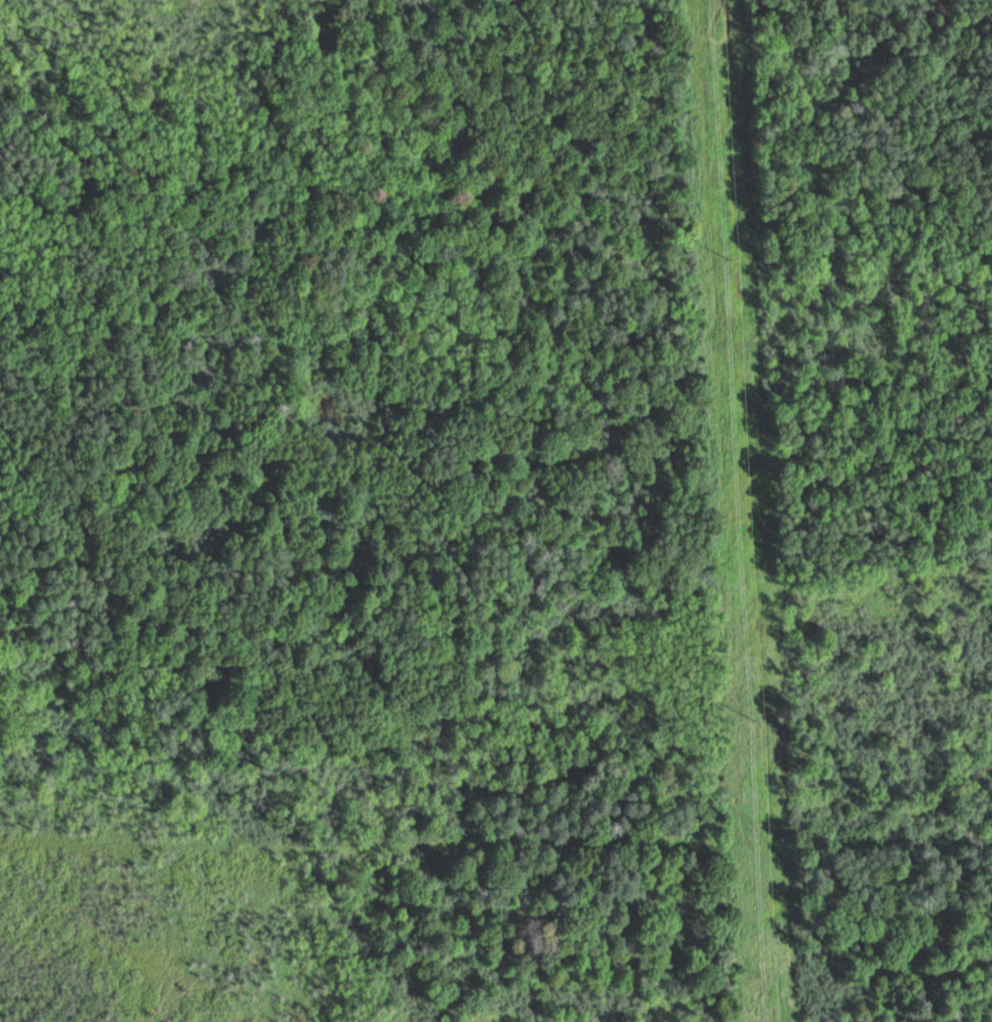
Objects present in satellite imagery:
power tower: (725, 257)
power tower: (753, 714)

